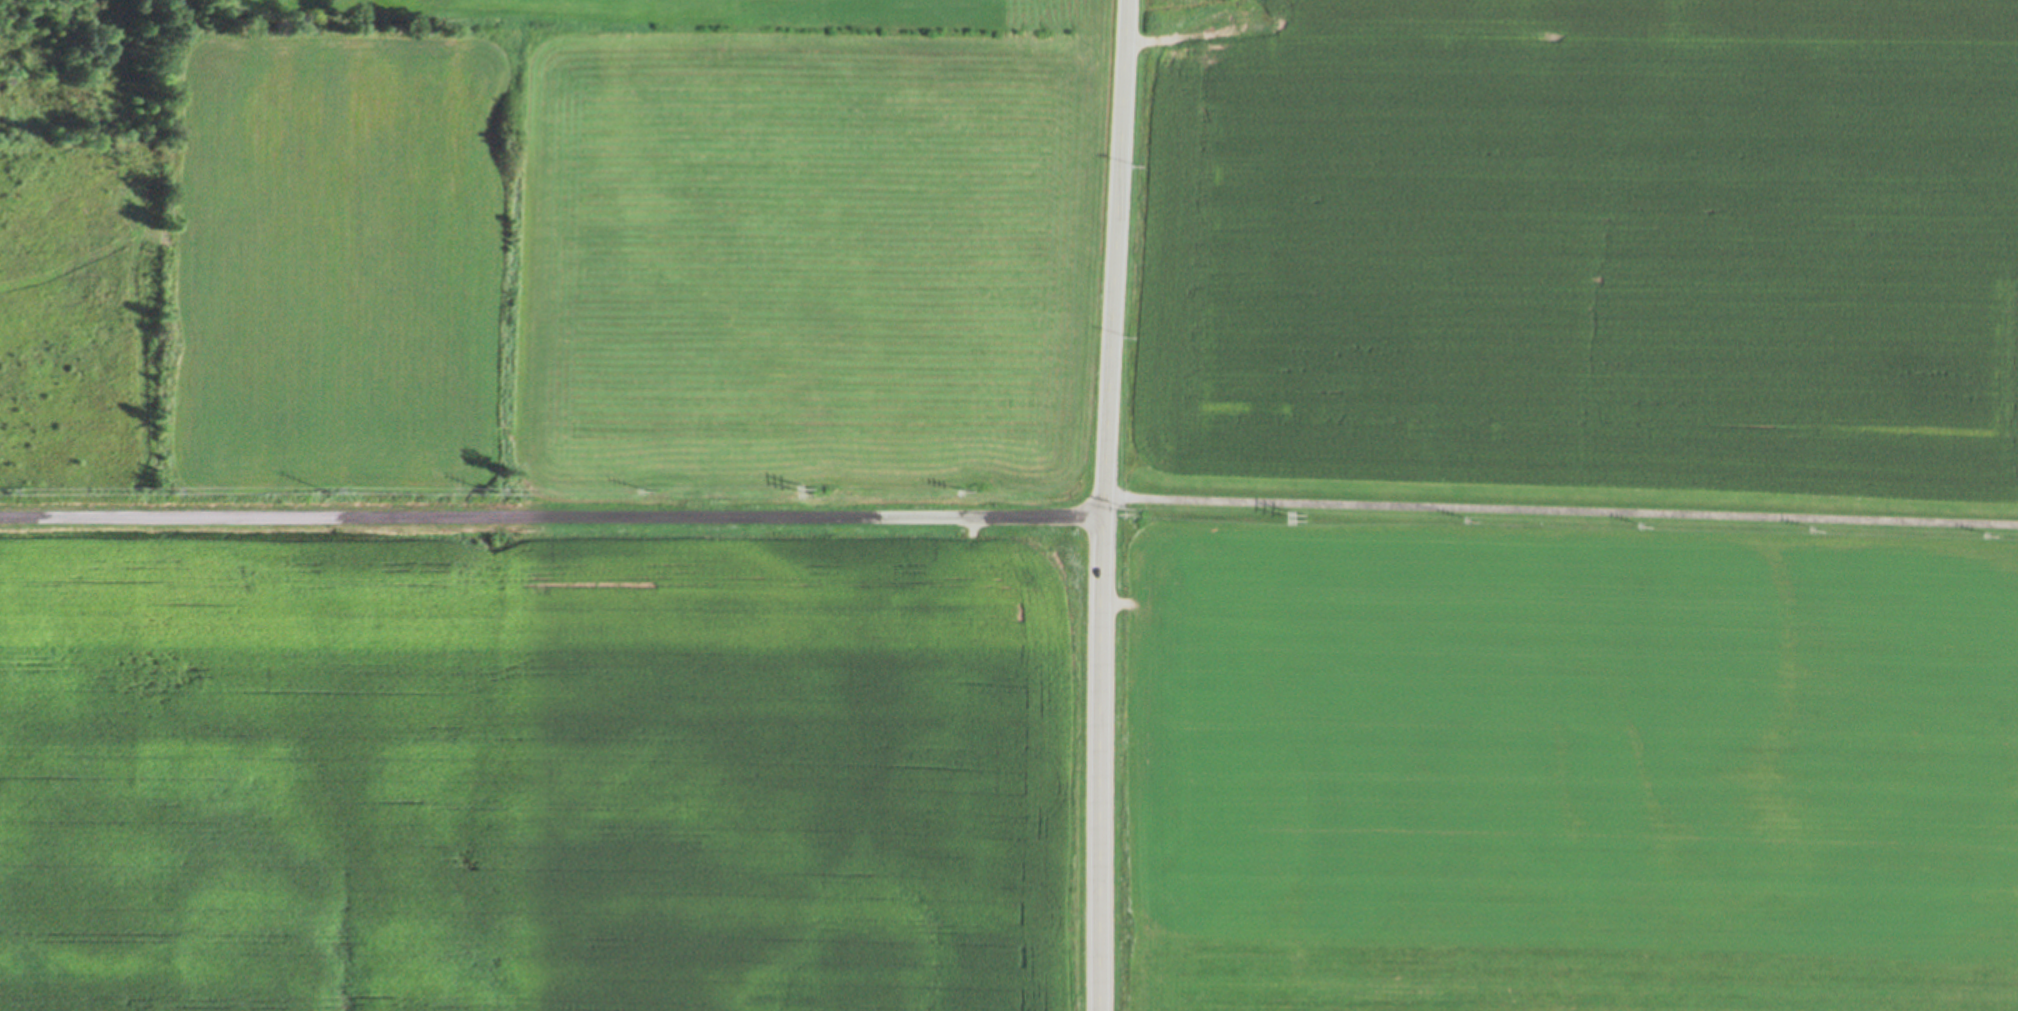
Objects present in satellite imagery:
road: (1107, 505)
road: (1562, 507)
road: (553, 519)

